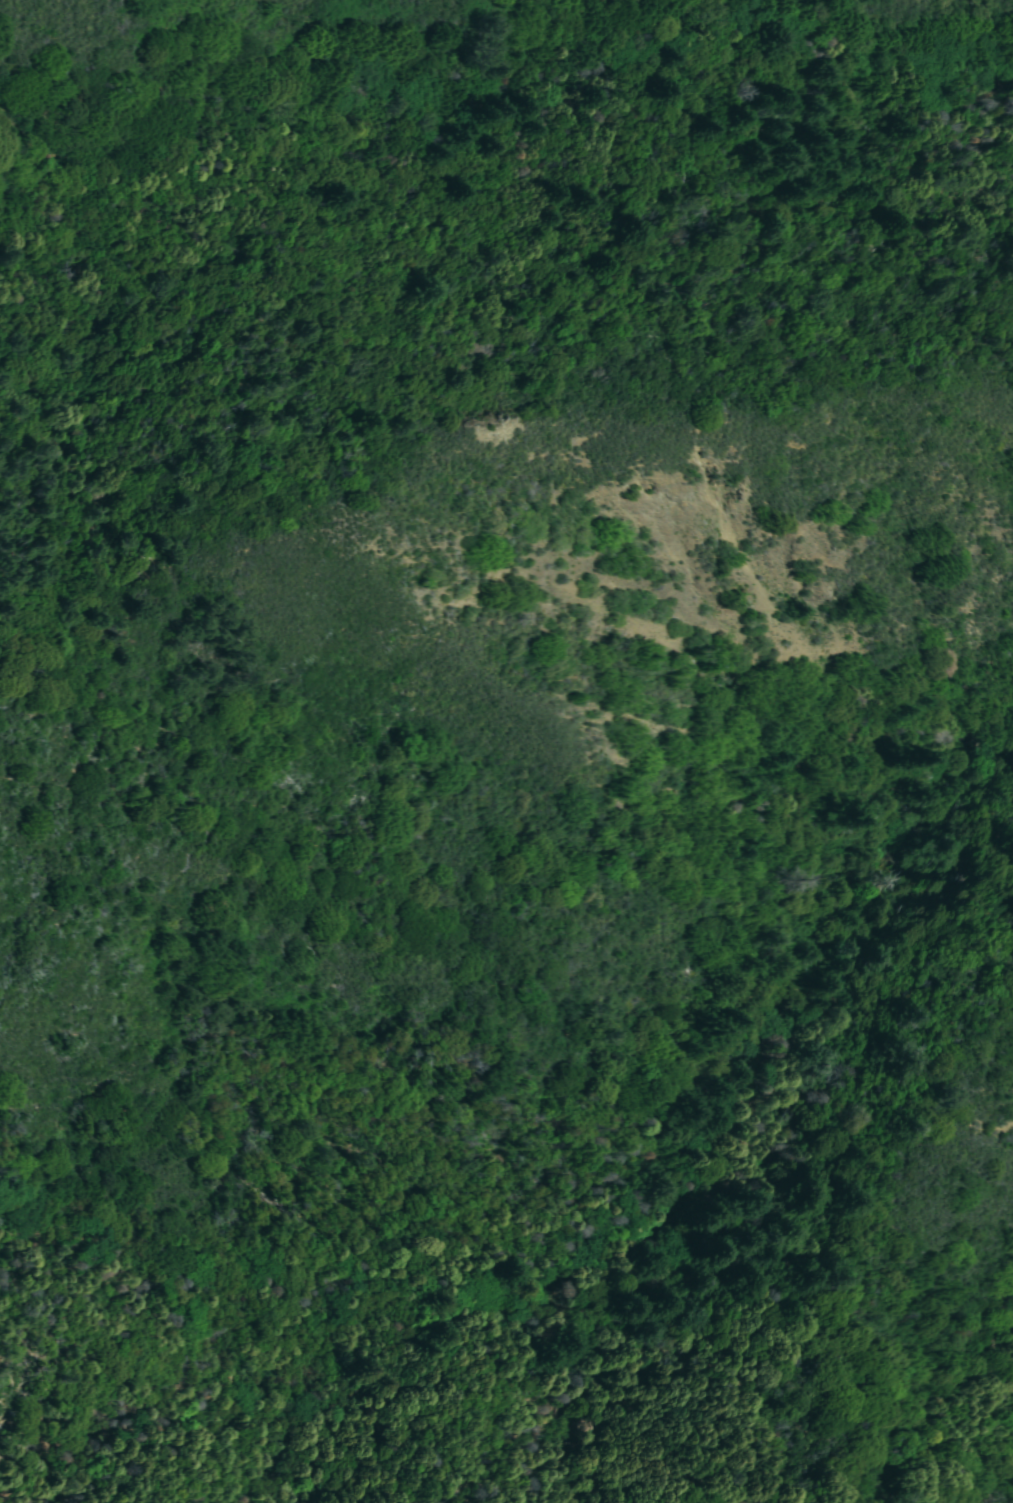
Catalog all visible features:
road: (910, 516)
road: (992, 580)

